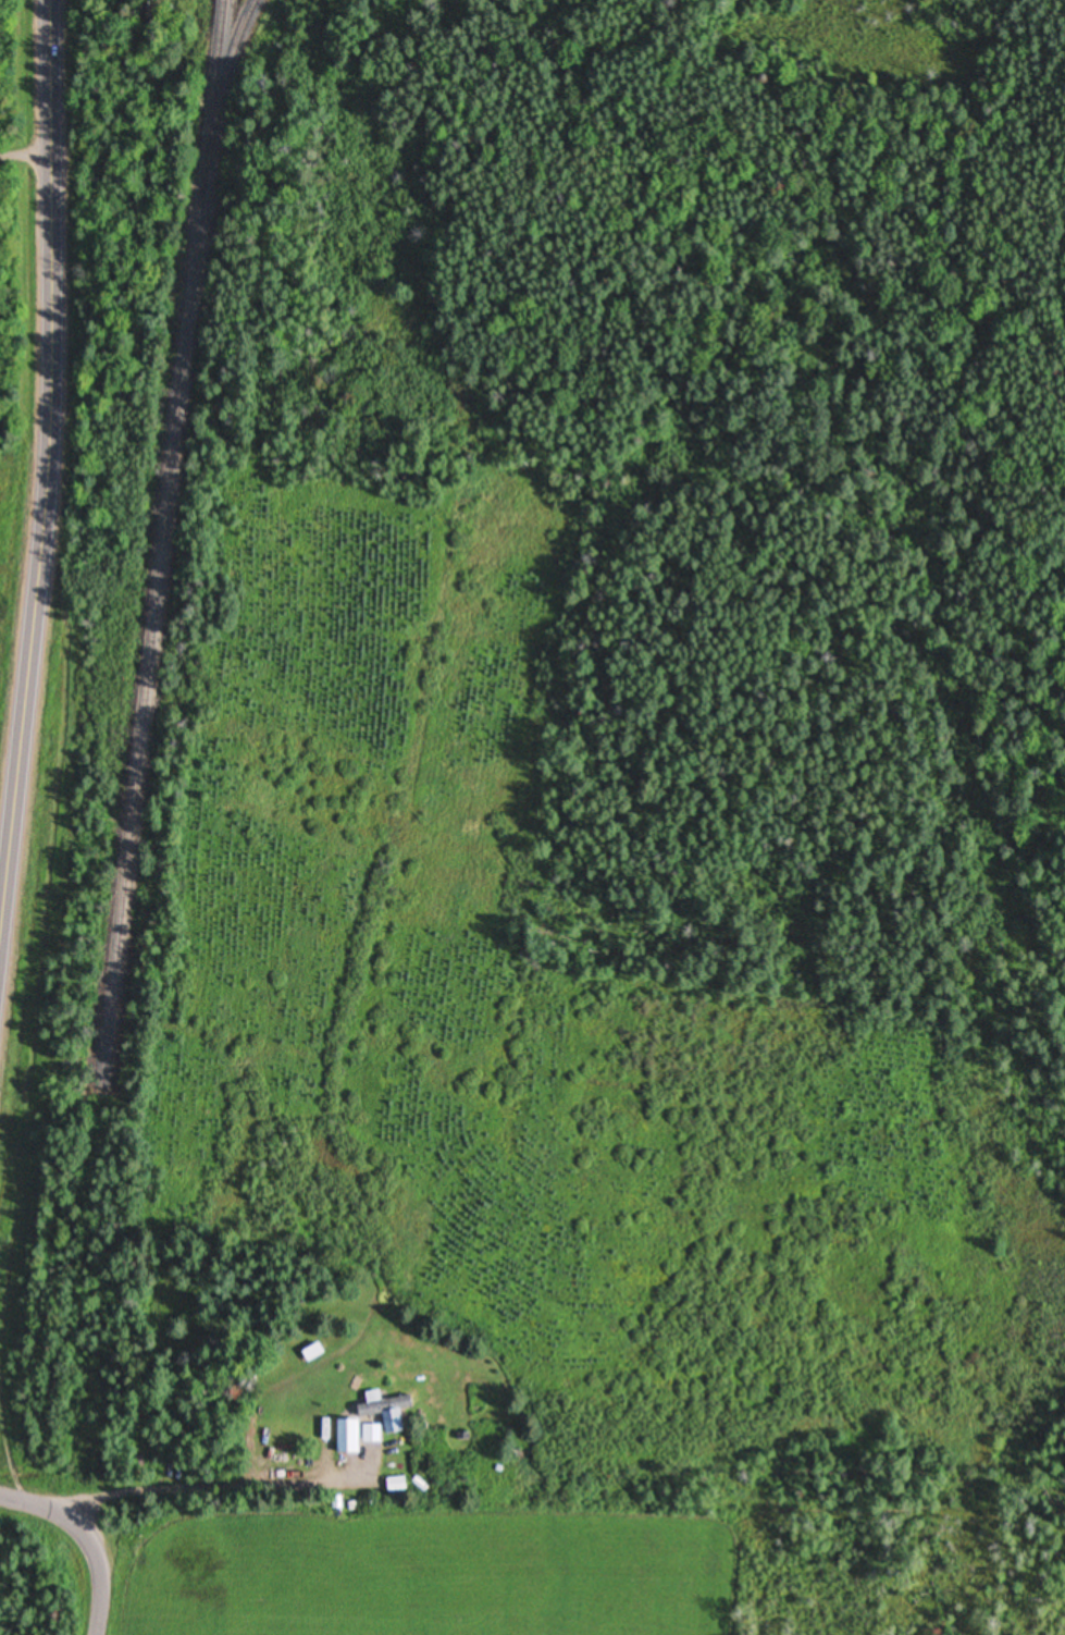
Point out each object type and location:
railway: (226, 82)
road: (45, 476)
railway: (163, 546)
building: (385, 1411)
building: (348, 1437)
building: (395, 1485)
road: (88, 1538)

